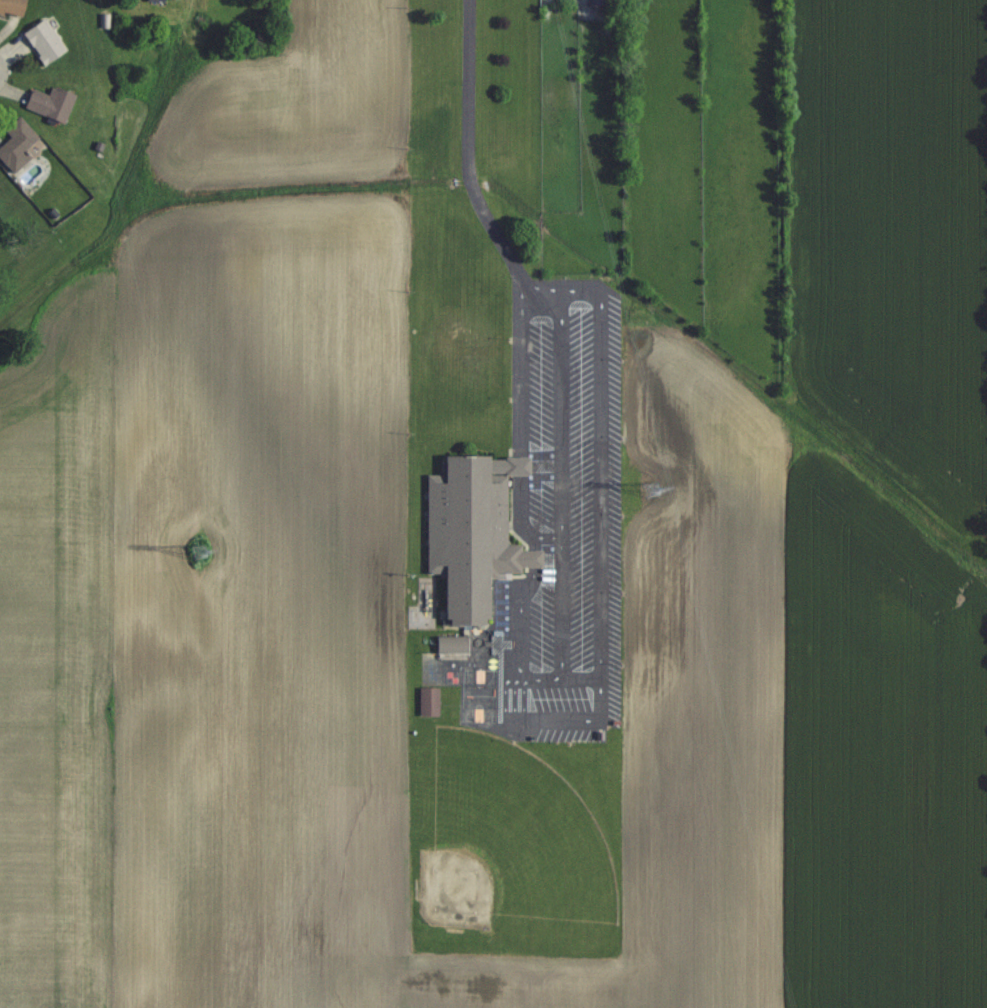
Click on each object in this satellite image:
building: (154, 0)
building: (596, 1)
building: (14, 6)
building: (46, 41)
road: (5, 70)
building: (53, 102)
building: (18, 143)
road: (470, 167)
road: (521, 362)
road: (521, 461)
power tower: (649, 492)
road: (522, 512)
building: (471, 533)
power tower: (195, 550)
road: (532, 558)
road: (521, 626)
building: (452, 644)
building: (428, 701)
road: (547, 720)
park: (489, 859)

